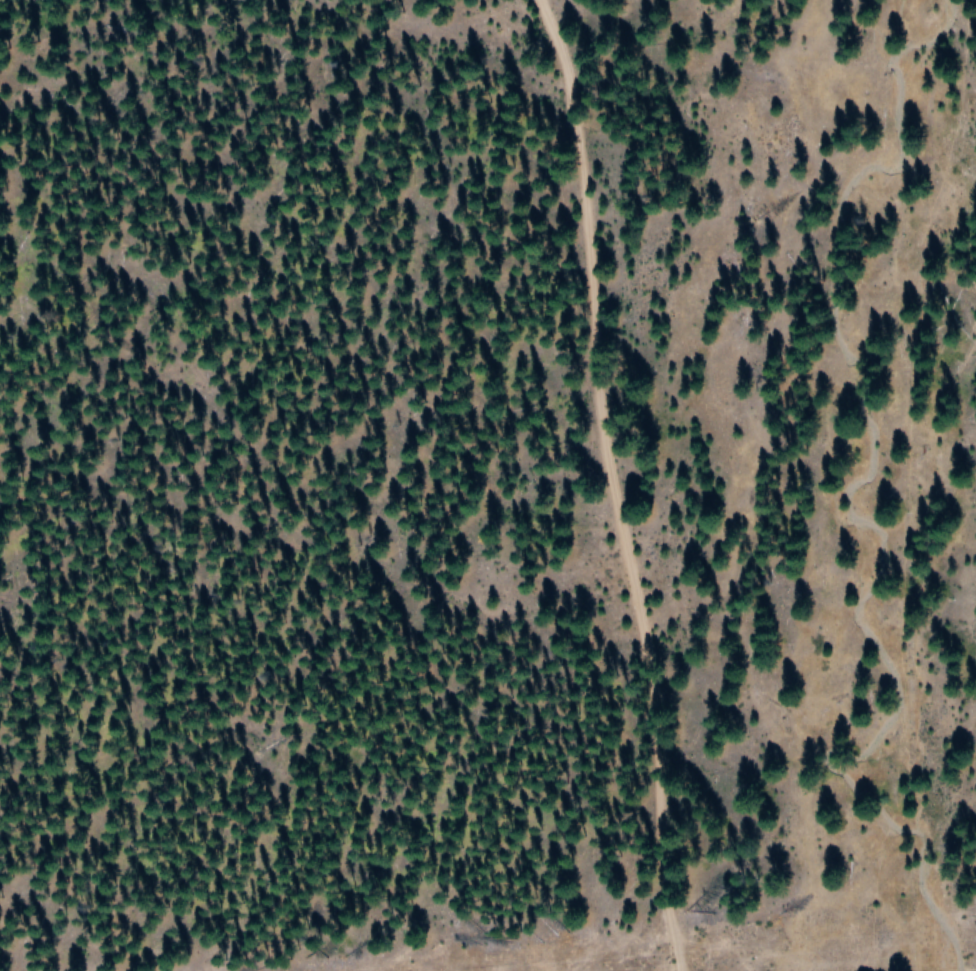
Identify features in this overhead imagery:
road: (613, 484)

